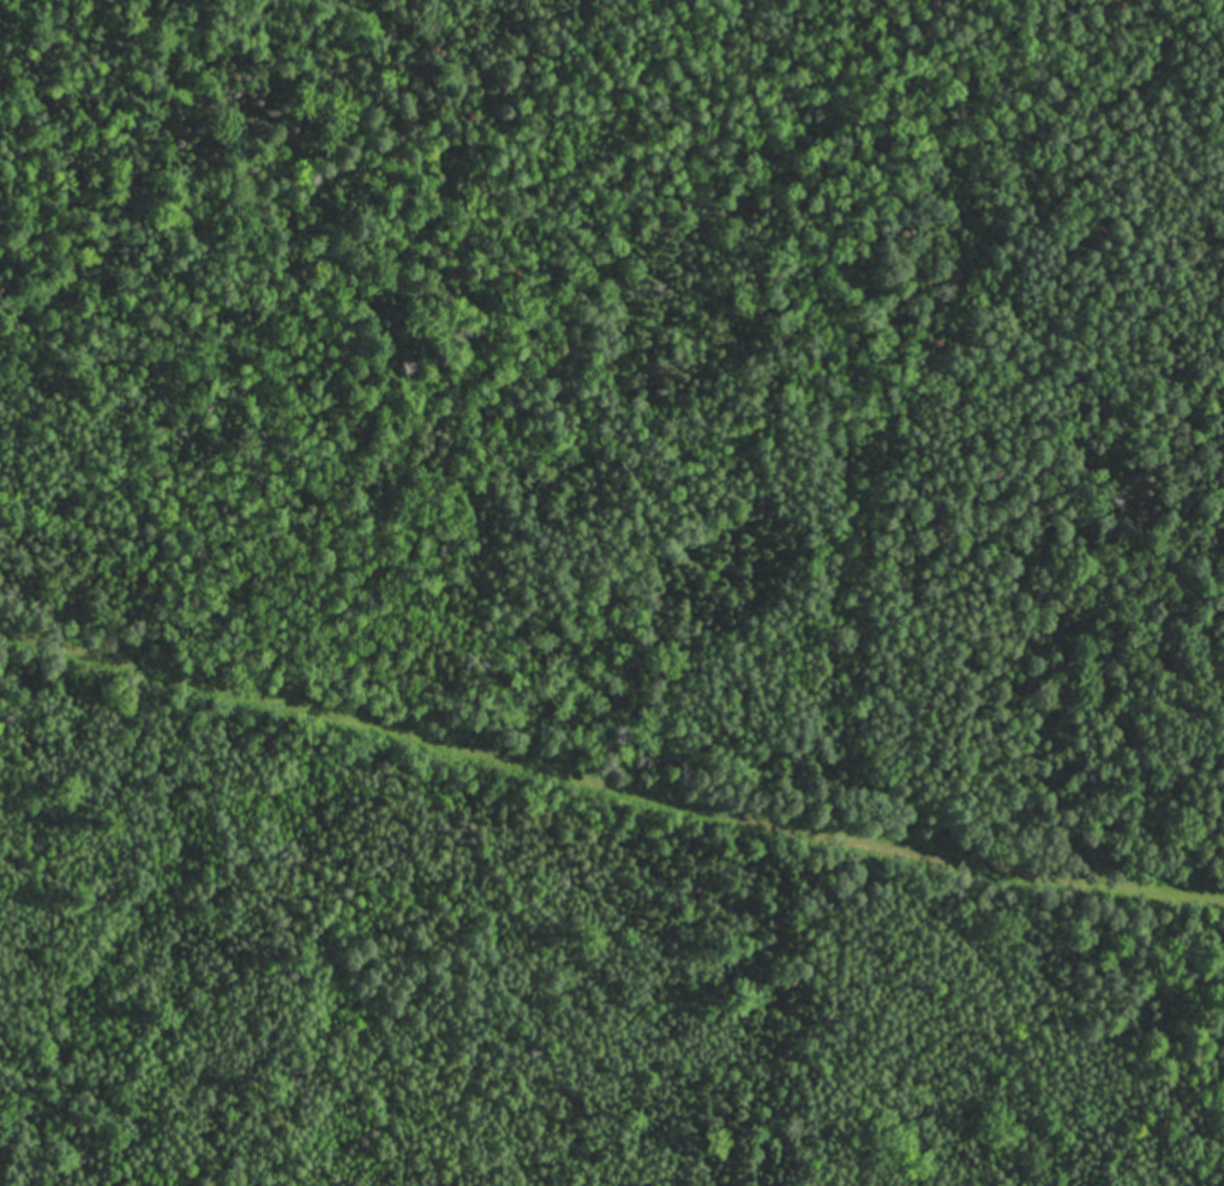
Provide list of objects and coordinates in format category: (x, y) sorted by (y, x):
road: (607, 786)

